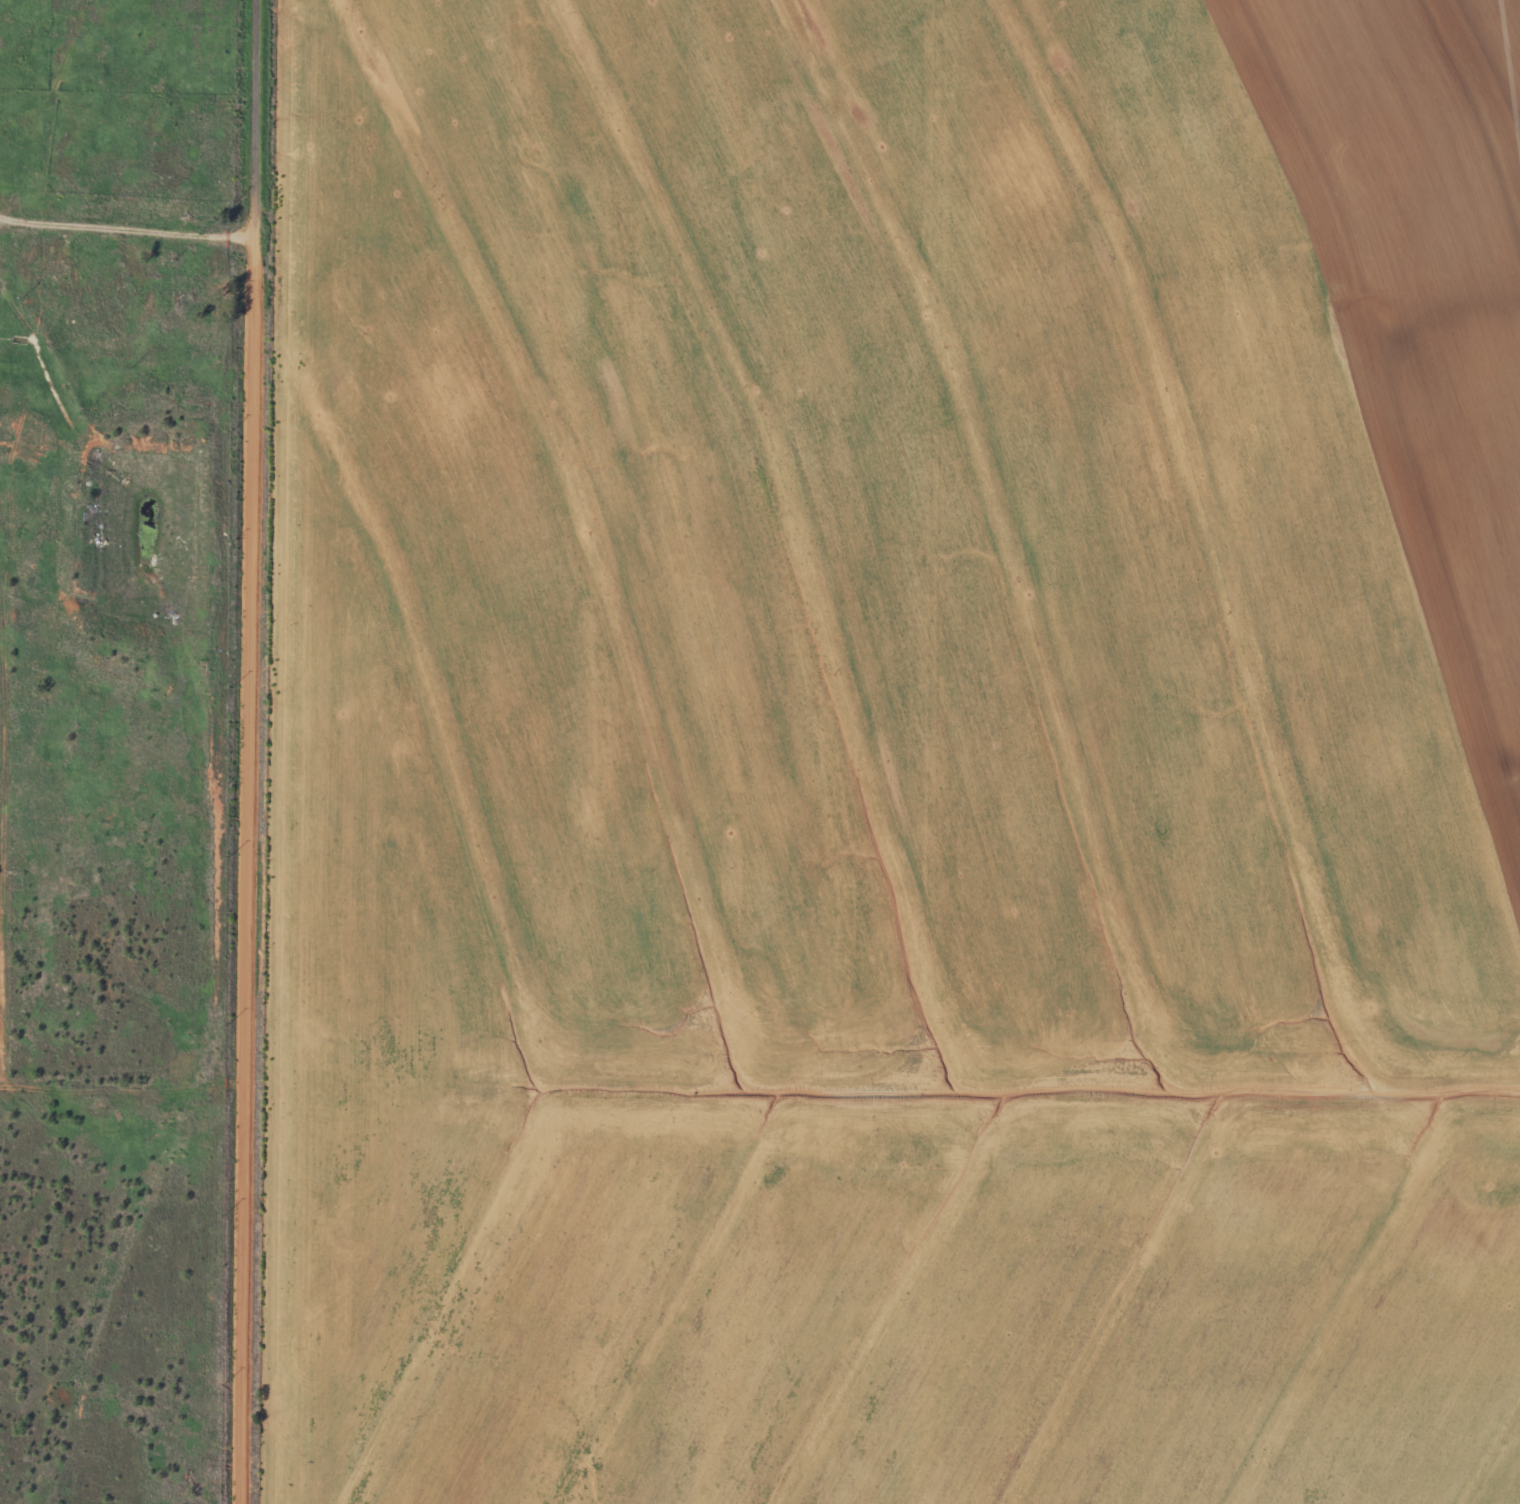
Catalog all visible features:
road: (252, 751)
road: (124, 1116)

